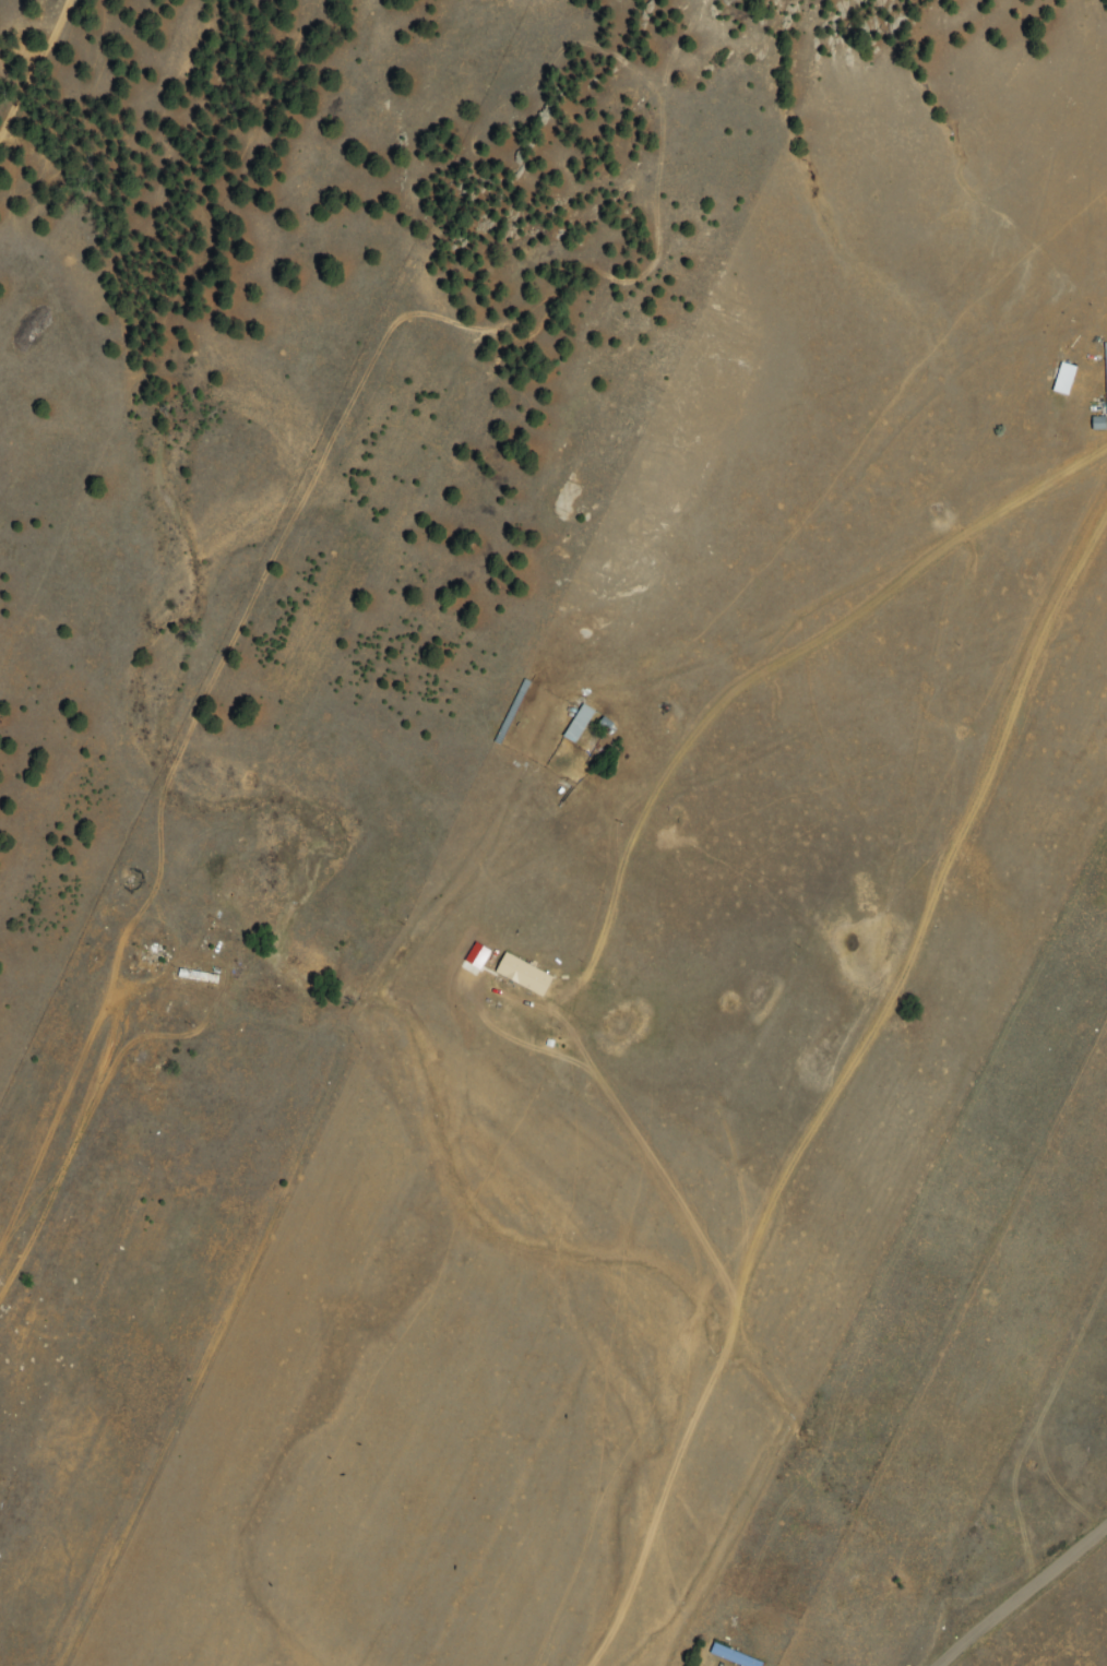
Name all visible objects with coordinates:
building: (1106, 370)
building: (579, 724)
building: (603, 728)
building: (524, 974)
building: (198, 975)
road: (264, 1226)
road: (1038, 1611)

